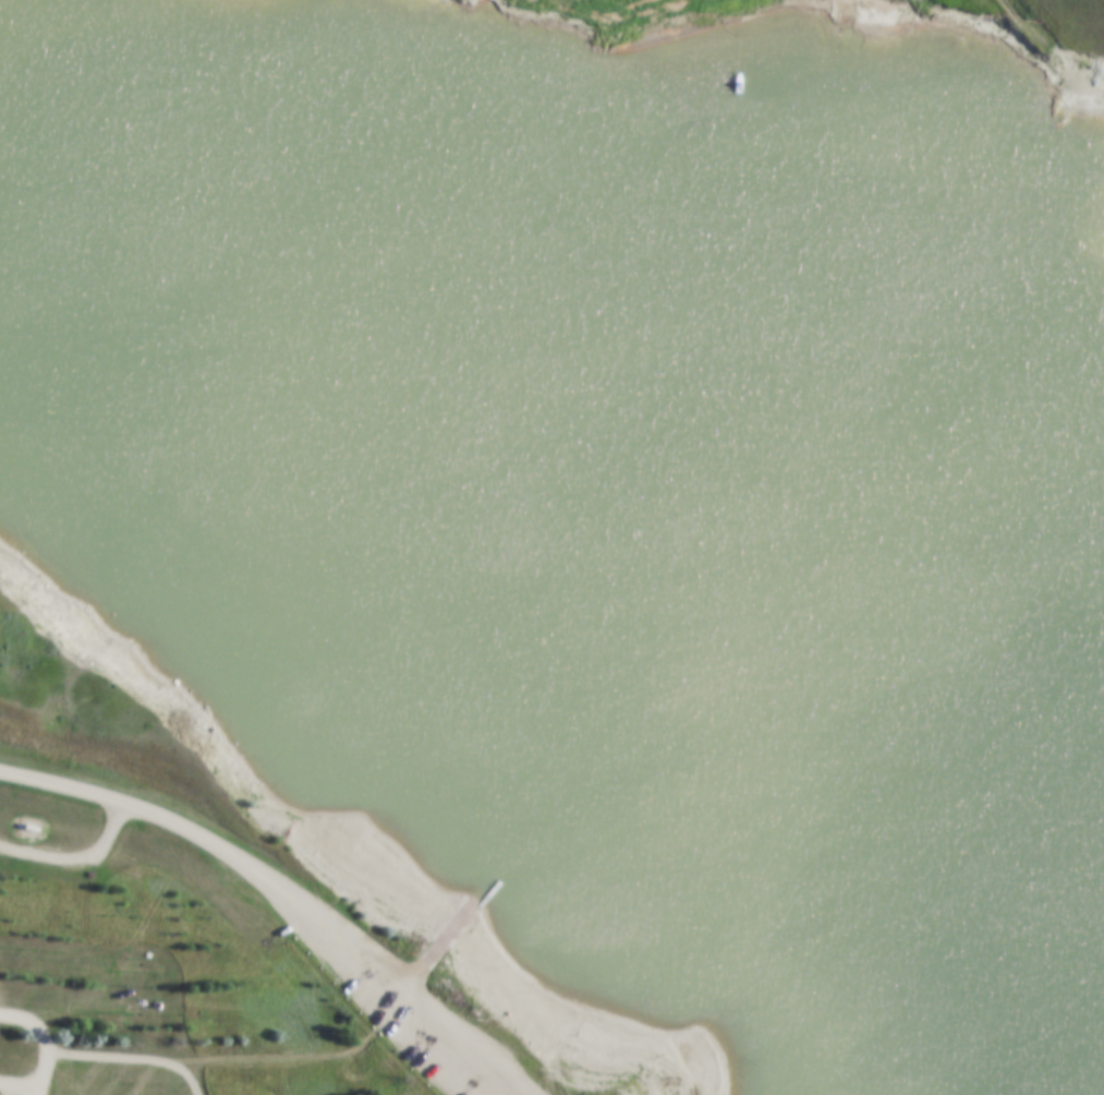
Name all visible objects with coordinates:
road: (80, 863)
road: (274, 892)
road: (444, 946)
road: (45, 1043)
road: (126, 1063)
road: (16, 1093)

